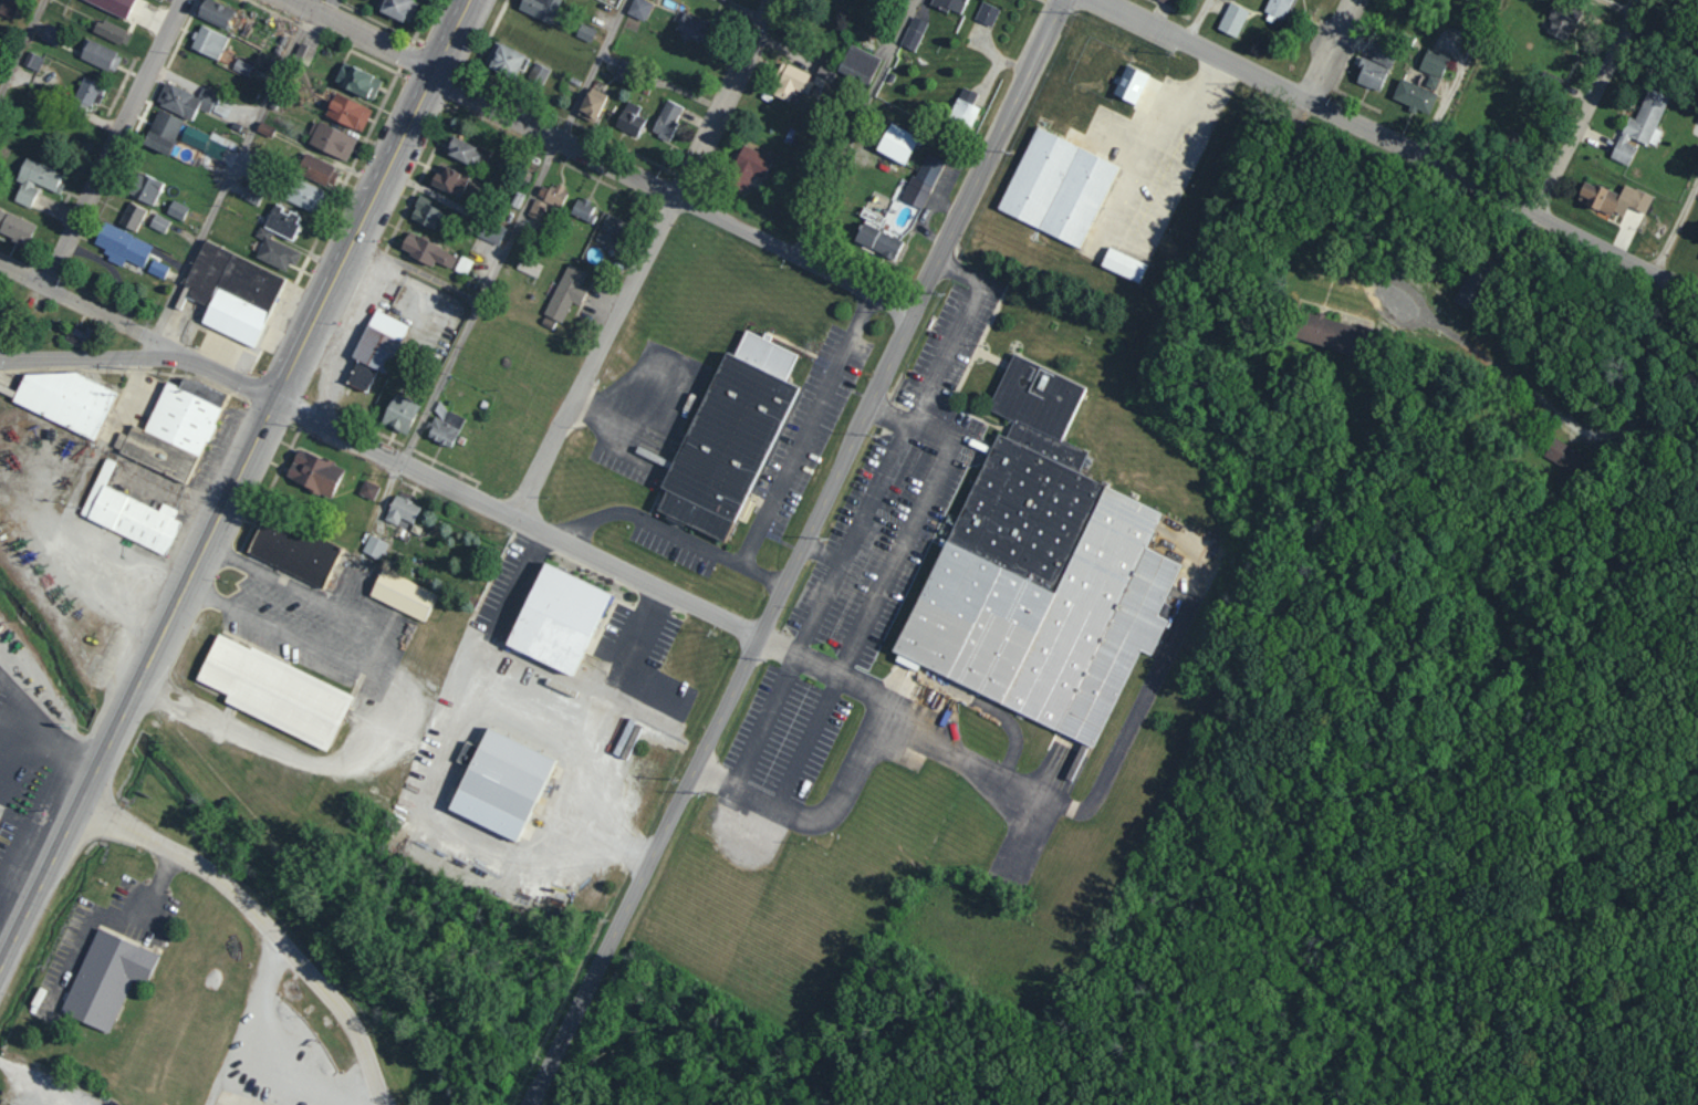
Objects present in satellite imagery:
building: (1168, 2)
building: (950, 4)
building: (113, 6)
building: (8, 7)
building: (1278, 8)
building: (397, 9)
building: (539, 9)
building: (639, 9)
road: (739, 9)
building: (213, 13)
building: (987, 13)
building: (1232, 19)
road: (1195, 21)
building: (1562, 21)
building: (691, 28)
building: (108, 31)
building: (585, 32)
building: (914, 33)
building: (50, 34)
road: (364, 34)
road: (18, 38)
building: (208, 43)
building: (304, 52)
road: (1331, 52)
building: (100, 55)
building: (503, 60)
building: (32, 61)
building: (860, 63)
building: (241, 66)
building: (1433, 66)
building: (1375, 69)
building: (622, 71)
building: (538, 73)
building: (824, 74)
building: (356, 81)
building: (790, 82)
building: (1129, 84)
building: (86, 93)
building: (1414, 96)
building: (184, 100)
building: (592, 104)
road: (1583, 104)
building: (965, 107)
building: (346, 112)
building: (629, 118)
building: (666, 119)
road: (854, 126)
building: (1642, 126)
building: (264, 129)
building: (162, 132)
building: (330, 140)
building: (200, 142)
building: (896, 143)
road: (1394, 144)
building: (465, 150)
road: (227, 167)
building: (748, 167)
building: (316, 170)
road: (94, 178)
building: (447, 180)
building: (923, 180)
building: (34, 181)
building: (1056, 187)
building: (144, 188)
road: (670, 194)
building: (249, 195)
building: (303, 195)
building: (550, 195)
building: (1615, 198)
building: (515, 199)
building: (535, 209)
building: (583, 209)
building: (176, 210)
building: (424, 212)
building: (131, 217)
road: (1520, 219)
building: (280, 221)
road: (1677, 222)
building: (159, 223)
building: (14, 227)
road: (513, 230)
building: (610, 230)
building: (490, 232)
building: (877, 241)
building: (122, 244)
building: (426, 252)
building: (275, 254)
road: (643, 259)
road: (1356, 259)
building: (1123, 264)
building: (528, 267)
building: (157, 269)
road: (414, 269)
road: (1261, 273)
building: (1483, 280)
building: (1468, 288)
building: (231, 292)
building: (565, 293)
road: (136, 332)
building: (79, 334)
building: (1356, 334)
road: (955, 335)
building: (374, 348)
road: (88, 355)
building: (64, 400)
building: (398, 414)
building: (444, 426)
road: (1642, 428)
building: (174, 429)
road: (806, 429)
road: (1673, 434)
building: (728, 437)
building: (1531, 441)
building: (1563, 455)
road: (1397, 458)
road: (886, 472)
building: (313, 473)
road: (1510, 481)
road: (235, 482)
building: (367, 490)
building: (400, 512)
building: (127, 514)
road: (515, 517)
road: (670, 532)
building: (374, 548)
building: (291, 553)
road: (793, 553)
building: (1040, 572)
building: (400, 595)
building: (555, 621)
park: (1413, 660)
road: (787, 674)
road: (1371, 674)
building: (273, 691)
road: (533, 706)
building: (626, 739)
road: (37, 741)
road: (1556, 749)
building: (498, 784)
road: (1017, 785)
road: (1303, 790)
road: (593, 803)
road: (833, 805)
road: (1360, 809)
road: (1408, 822)
road: (1275, 856)
road: (1178, 863)
road: (1298, 863)
road: (1511, 904)
road: (1385, 911)
road: (114, 916)
road: (264, 918)
road: (1485, 927)
road: (1228, 949)
road: (1, 957)
road: (1404, 972)
building: (105, 978)
road: (1239, 982)
road: (1284, 983)
road: (1236, 1010)
road: (1171, 1035)
road: (277, 1036)
road: (37, 1084)
park: (1689, 1086)
road: (365, 1101)
park: (770, 1101)

